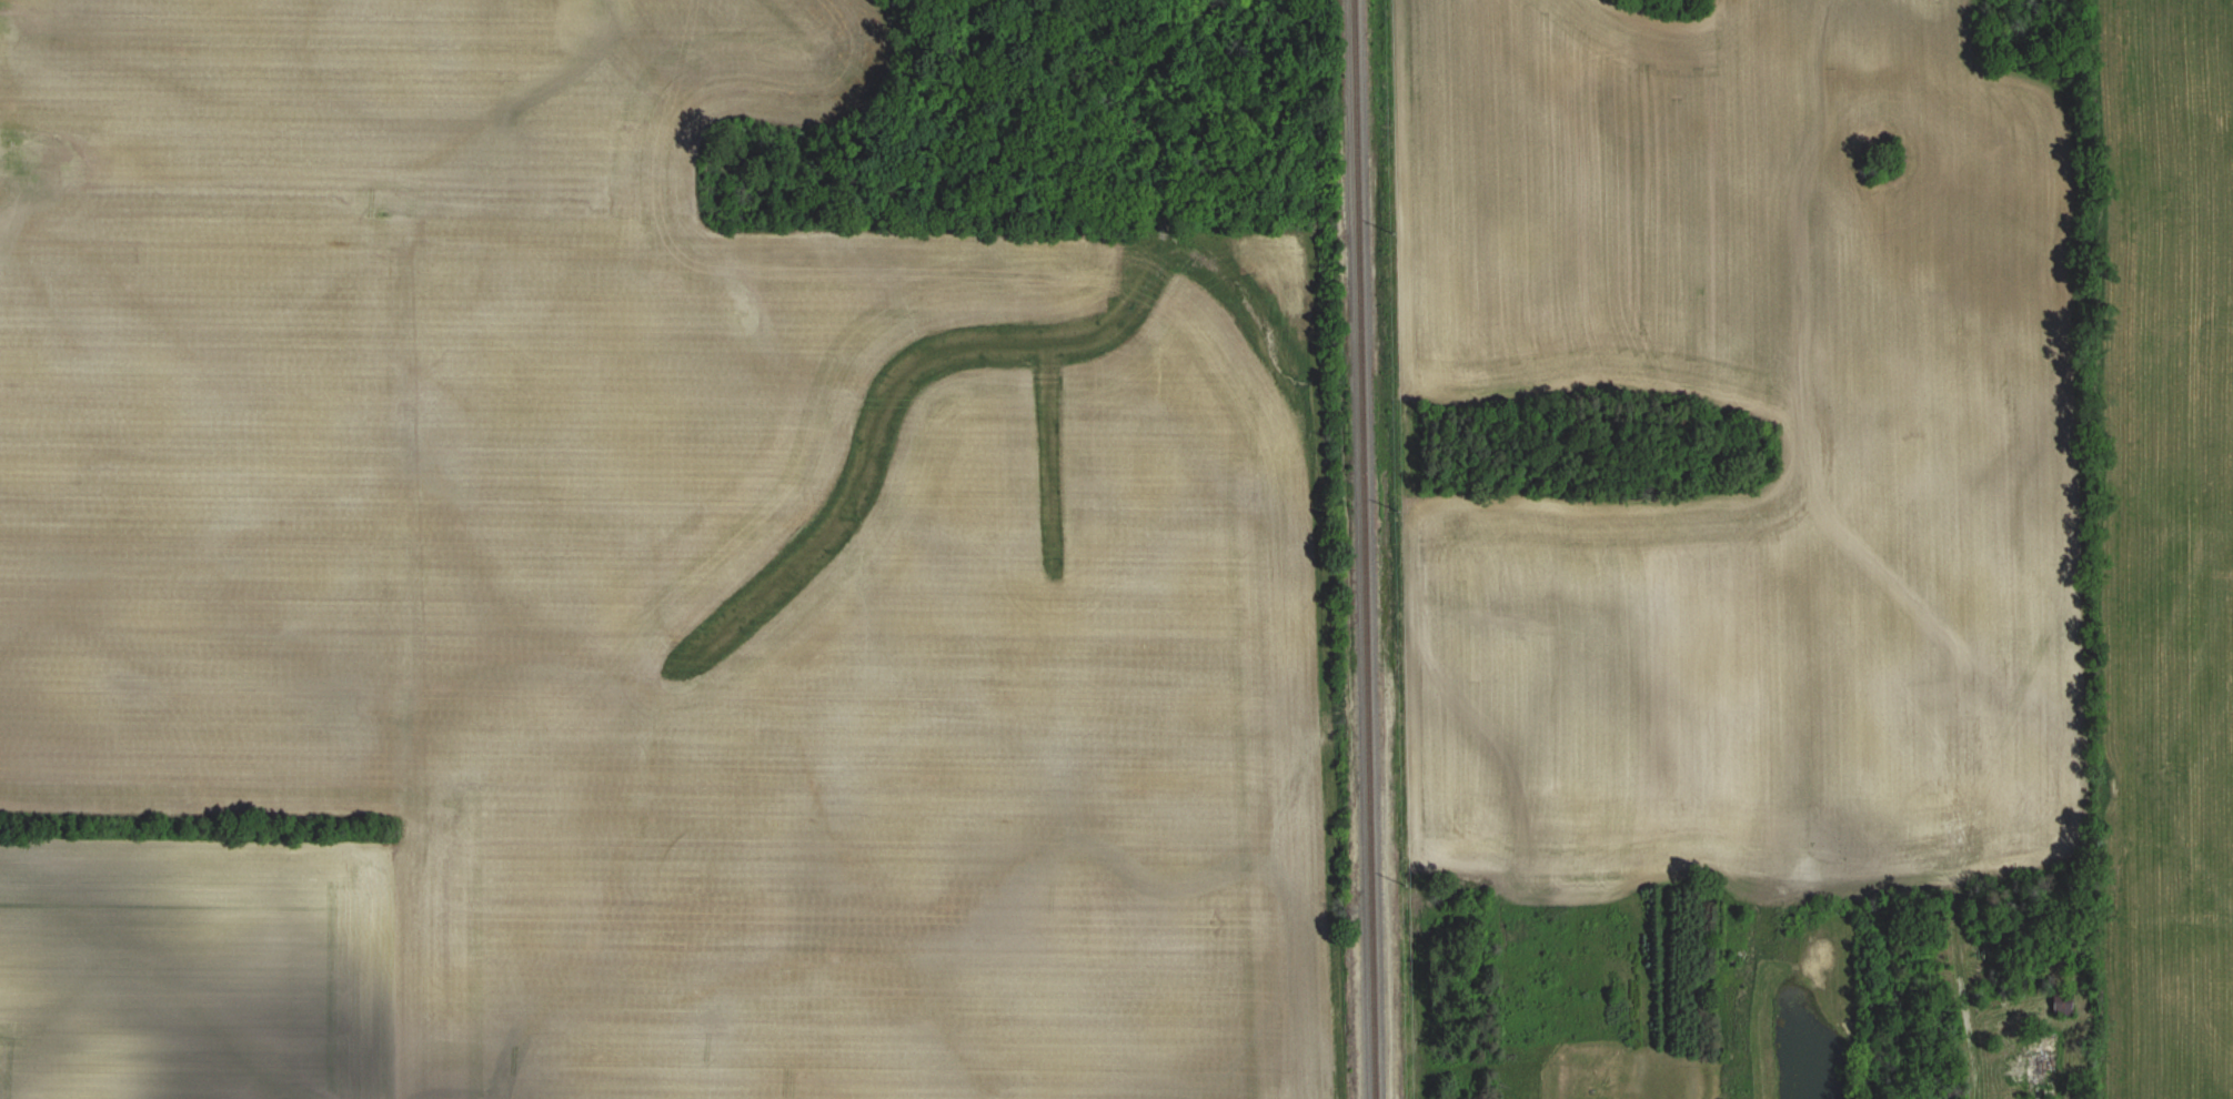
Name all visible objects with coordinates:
railway: (1368, 549)
building: (2062, 1006)
road: (1972, 1043)
building: (2041, 1061)

